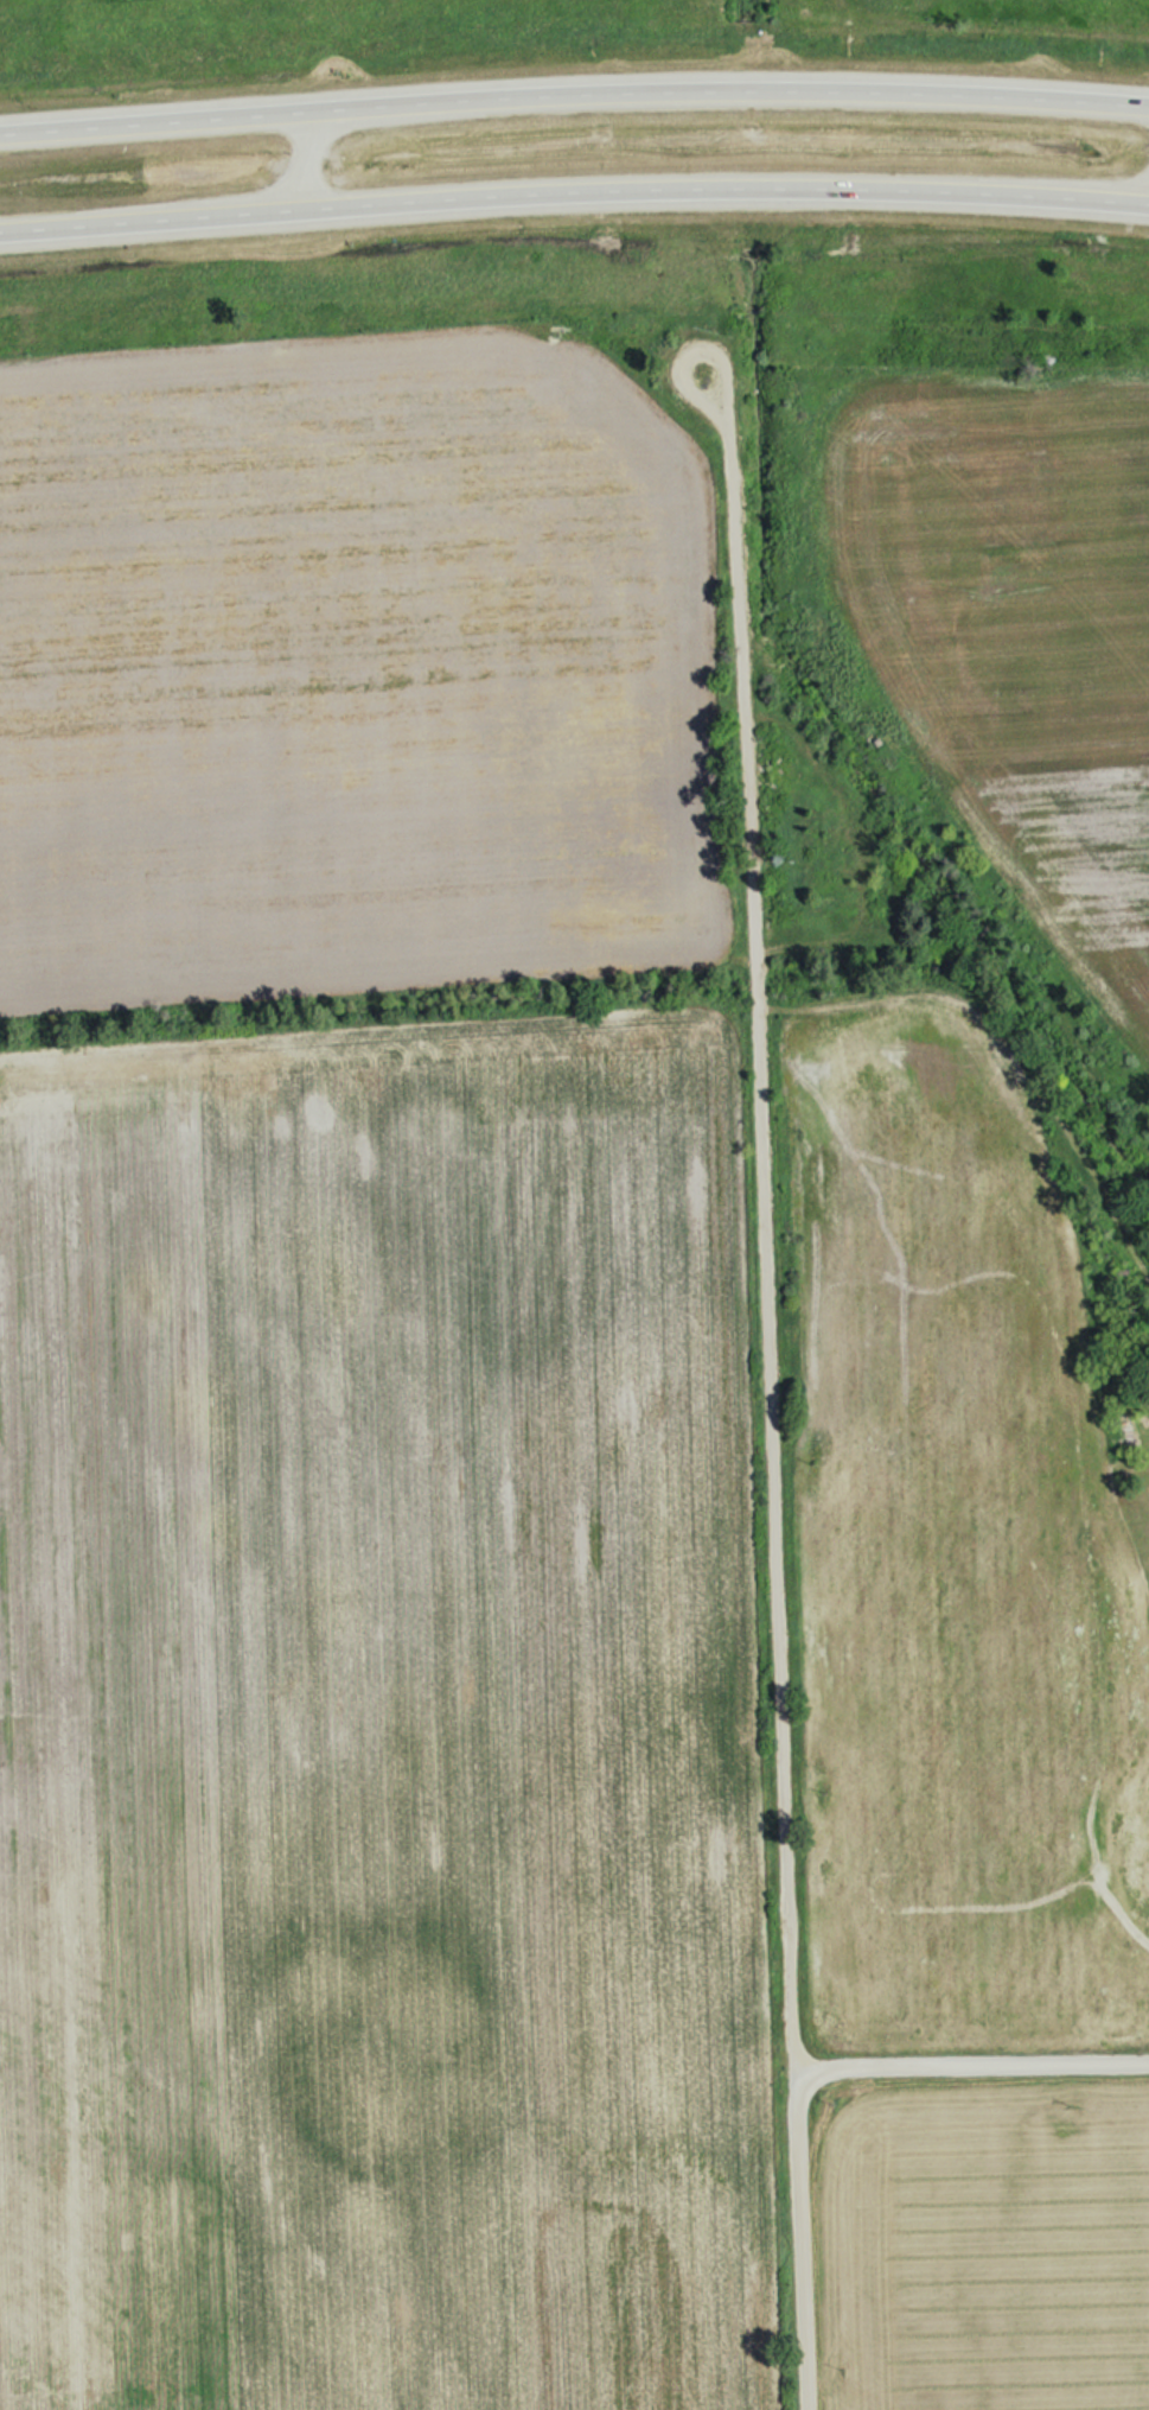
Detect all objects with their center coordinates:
road: (574, 95)
road: (574, 190)
road: (768, 1388)
road: (970, 2069)

